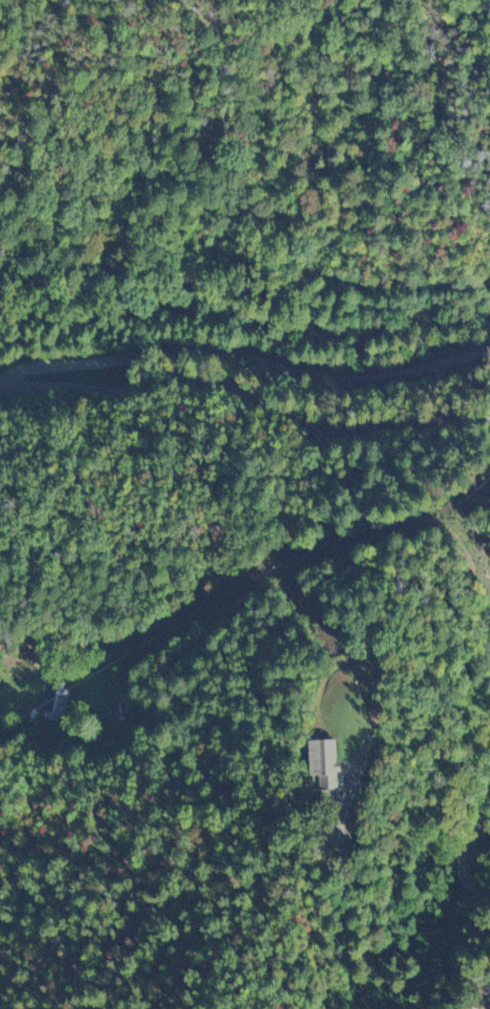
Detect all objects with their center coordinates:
road: (248, 361)
road: (245, 397)
road: (138, 604)
road: (222, 608)
building: (55, 709)
building: (321, 768)
road: (464, 847)
road: (61, 922)
road: (347, 924)
road: (462, 1000)

